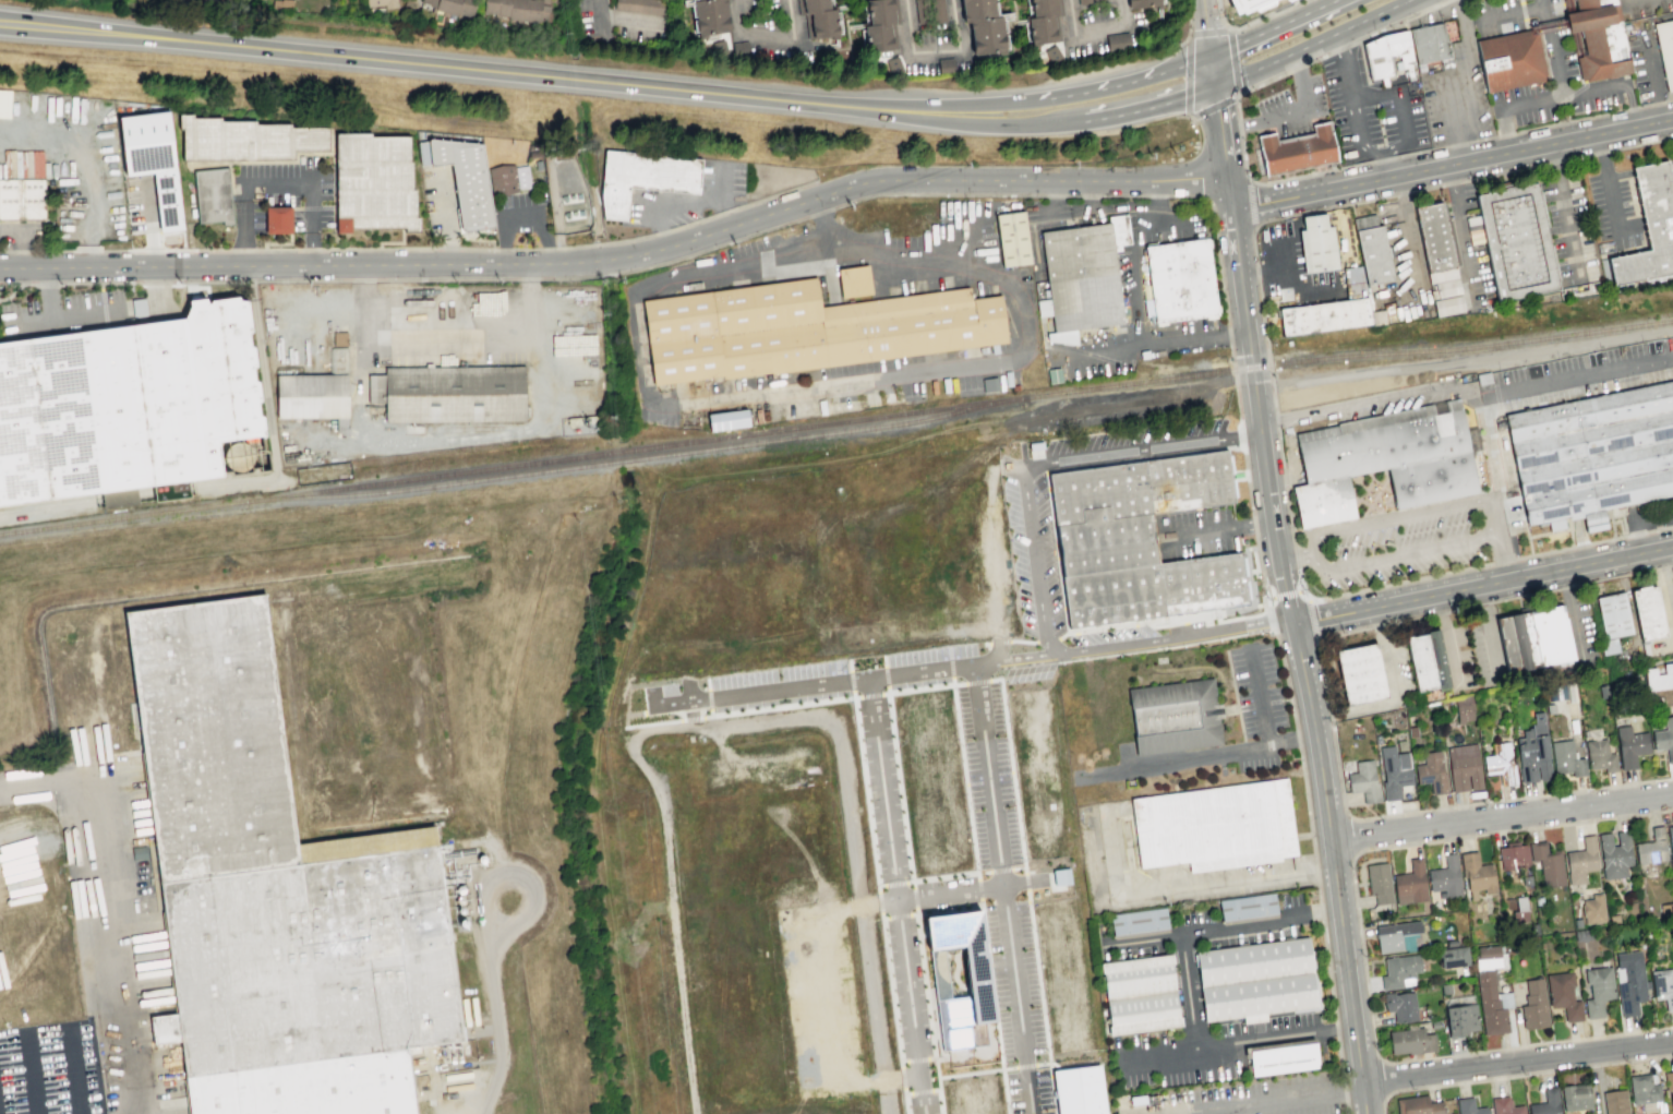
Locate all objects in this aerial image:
building: (208, 0)
building: (1098, 0)
building: (1286, 0)
road: (1637, 0)
road: (1672, 0)
building: (1084, 1)
building: (381, 2)
building: (1143, 2)
road: (1544, 2)
building: (813, 4)
building: (1247, 4)
building: (453, 5)
building: (645, 5)
building: (496, 7)
building: (1044, 7)
building: (976, 9)
building: (525, 11)
building: (880, 11)
building: (922, 11)
building: (938, 11)
road: (1515, 11)
building: (709, 16)
road: (1218, 16)
road: (1266, 16)
road: (626, 22)
road: (1400, 22)
building: (821, 23)
road: (1207, 27)
road: (1273, 27)
building: (1040, 28)
road: (1092, 28)
road: (1208, 31)
road: (772, 33)
building: (986, 34)
building: (879, 36)
building: (1599, 39)
building: (1118, 41)
road: (1311, 43)
road: (1340, 47)
building: (1429, 47)
building: (739, 48)
building: (1664, 49)
road: (935, 50)
road: (1555, 51)
building: (1051, 55)
building: (1388, 55)
traffic signals: (1212, 56)
road: (345, 58)
road: (1317, 58)
parking lot: (1558, 58)
building: (1510, 60)
road: (1233, 62)
building: (893, 65)
building: (944, 65)
road: (1344, 65)
road: (1297, 67)
road: (1213, 70)
road: (1187, 74)
road: (1648, 74)
road: (1468, 80)
road: (1128, 81)
road: (1261, 82)
traffic signals: (1215, 85)
parking lot: (1457, 85)
road: (1565, 98)
road: (1668, 101)
building: (4, 103)
road: (1007, 103)
road: (1653, 105)
road: (831, 106)
road: (1151, 106)
road: (1236, 106)
road: (1443, 106)
road: (1632, 106)
road: (1212, 107)
parking lot: (1289, 107)
parking lot: (1371, 110)
road: (1292, 113)
road: (1185, 115)
road: (1404, 119)
road: (1353, 121)
road: (1028, 124)
road: (1238, 125)
road: (1507, 131)
road: (1520, 131)
road: (1221, 132)
building: (245, 140)
building: (1297, 151)
road: (1384, 159)
building: (1672, 160)
building: (154, 161)
road: (1453, 165)
road: (1388, 166)
building: (643, 177)
building: (508, 179)
road: (1287, 179)
road: (278, 180)
road: (925, 180)
building: (465, 181)
road: (1609, 182)
building: (373, 184)
road: (780, 192)
road: (1092, 193)
road: (1394, 193)
power substation: (565, 194)
building: (212, 195)
road: (1056, 195)
road: (1072, 195)
road: (1090, 195)
road: (1124, 195)
road: (1158, 195)
road: (1190, 195)
parking lot: (687, 196)
building: (22, 202)
road: (685, 202)
road: (1252, 203)
road: (1116, 205)
road: (829, 207)
road: (729, 209)
road: (1564, 209)
parking lot: (1615, 209)
parking lot: (521, 216)
road: (1159, 216)
building: (277, 219)
road: (522, 220)
road: (689, 223)
road: (1042, 227)
road: (1459, 227)
parking lot: (1567, 227)
building: (1649, 227)
road: (659, 232)
road: (1405, 235)
building: (1433, 237)
road: (633, 238)
building: (1012, 238)
road: (953, 241)
building: (1515, 241)
road: (605, 243)
building: (1315, 244)
road: (575, 245)
road: (547, 248)
road: (248, 249)
road: (502, 249)
road: (526, 249)
building: (1373, 254)
road: (626, 256)
road: (607, 259)
road: (586, 261)
road: (1220, 263)
road: (288, 265)
road: (610, 274)
road: (1133, 274)
road: (425, 278)
building: (1081, 279)
building: (1180, 279)
building: (854, 280)
road: (155, 282)
road: (46, 283)
road: (16, 288)
road: (48, 295)
building: (490, 303)
building: (139, 307)
parking lot: (65, 308)
building: (1329, 309)
road: (86, 318)
road: (29, 325)
building: (805, 328)
road: (1229, 335)
building: (339, 338)
road: (1152, 342)
railway: (1126, 363)
railway: (842, 368)
railway: (1150, 380)
road: (796, 390)
road: (1502, 390)
road: (1369, 392)
building: (448, 393)
building: (311, 396)
parking lot: (1514, 396)
railway: (1123, 399)
building: (130, 405)
road: (270, 407)
road: (1155, 410)
building: (727, 419)
railway: (825, 433)
railway: (868, 435)
railway: (622, 451)
railway: (870, 454)
building: (1382, 459)
railway: (623, 460)
building: (1592, 460)
road: (1050, 463)
road: (1384, 467)
road: (624, 479)
railway: (230, 482)
railway: (431, 487)
building: (170, 490)
railway: (143, 492)
railway: (306, 492)
road: (147, 495)
building: (118, 498)
railway: (47, 504)
road: (46, 510)
road: (306, 520)
road: (1217, 528)
railway: (956, 531)
building: (1139, 541)
parking lot: (1404, 549)
road: (988, 550)
parking lot: (1015, 551)
road: (1293, 553)
road: (1308, 553)
road: (1506, 559)
building: (1672, 584)
road: (1484, 585)
road: (1374, 588)
railway: (822, 598)
building: (1647, 614)
building: (1613, 616)
road: (1312, 620)
road: (1229, 623)
building: (1552, 637)
road: (1020, 639)
building: (1517, 643)
road: (1108, 645)
road: (1302, 646)
road: (996, 647)
parking lot: (914, 656)
road: (1011, 658)
road: (882, 660)
building: (1425, 662)
road: (847, 664)
road: (949, 667)
parking lot: (814, 668)
road: (884, 675)
building: (1359, 675)
building: (1658, 676)
parking lot: (743, 678)
road: (850, 679)
parking lot: (917, 681)
road: (810, 684)
road: (886, 688)
parking lot: (1256, 690)
road: (686, 691)
road: (881, 692)
building: (1556, 692)
road: (851, 693)
road: (869, 694)
road: (855, 695)
road: (650, 697)
road: (708, 697)
parking lot: (778, 698)
road: (1259, 698)
road: (1253, 703)
road: (780, 705)
road: (616, 708)
building: (1463, 708)
building: (1549, 708)
road: (709, 710)
road: (1329, 711)
road: (703, 716)
building: (1172, 717)
road: (688, 718)
road: (650, 722)
road: (735, 723)
road: (1297, 729)
road: (890, 730)
road: (1295, 738)
building: (1664, 738)
building: (1629, 745)
building: (1532, 751)
road: (727, 755)
building: (1599, 755)
building: (1566, 758)
road: (1169, 760)
parking lot: (1257, 762)
building: (1500, 763)
building: (1464, 766)
building: (1394, 771)
building: (1431, 772)
parking lot: (986, 775)
road: (963, 777)
building: (1363, 781)
parking lot: (891, 783)
parking lot: (870, 789)
road: (863, 790)
road: (1503, 816)
building: (1215, 826)
road: (1350, 834)
road: (50, 840)
building: (1670, 842)
building: (1651, 848)
building: (1614, 854)
building: (1513, 855)
road: (808, 858)
building: (1580, 861)
building: (1548, 863)
road: (982, 871)
building: (1477, 873)
road: (513, 874)
road: (942, 876)
building: (1060, 876)
building: (1445, 878)
building: (1411, 881)
building: (1526, 881)
parking lot: (941, 882)
building: (1379, 882)
road: (1175, 887)
road: (959, 889)
road: (1000, 889)
building: (274, 893)
road: (1025, 895)
road: (893, 896)
parking lot: (1291, 898)
road: (109, 899)
building: (1248, 909)
building: (1592, 909)
building: (1518, 911)
road: (880, 917)
parking lot: (1191, 917)
building: (1613, 919)
building: (1576, 922)
building: (1139, 924)
building: (1533, 929)
parking lot: (1250, 935)
building: (1393, 935)
building: (1582, 935)
road: (1143, 942)
building: (1451, 942)
road: (1361, 944)
parking lot: (1140, 948)
building: (1453, 956)
building: (1398, 970)
building: (975, 972)
parking lot: (1013, 978)
building: (1629, 981)
building: (1256, 982)
parking lot: (914, 985)
building: (1662, 986)
road: (889, 989)
building: (1444, 989)
building: (1489, 989)
parking lot: (895, 990)
building: (1598, 990)
road: (1187, 993)
building: (1562, 994)
building: (1140, 995)
building: (1533, 1005)
building: (1400, 1006)
road: (822, 1009)
building: (1460, 1019)
building: (1433, 1023)
parking lot: (1267, 1025)
road: (500, 1034)
building: (1410, 1041)
road: (1159, 1053)
building: (1280, 1058)
road: (1519, 1063)
road: (1023, 1065)
road: (999, 1067)
parking lot: (48, 1070)
road: (75, 1073)
parking lot: (1199, 1074)
road: (899, 1075)
road: (1519, 1075)
road: (31, 1076)
road: (1382, 1078)
parking lot: (1138, 1079)
road: (936, 1081)
building: (1669, 1086)
building: (1642, 1088)
building: (1078, 1090)
road: (1002, 1091)
parking lot: (1027, 1091)
building: (1575, 1097)
parking lot: (1275, 1098)
road: (937, 1101)
building: (1614, 1101)
road: (1277, 1102)
road: (904, 1103)
parking lot: (930, 1103)
building: (1545, 1103)
parking lot: (910, 1105)
building: (1417, 1105)
building: (1468, 1106)
building: (1504, 1106)

